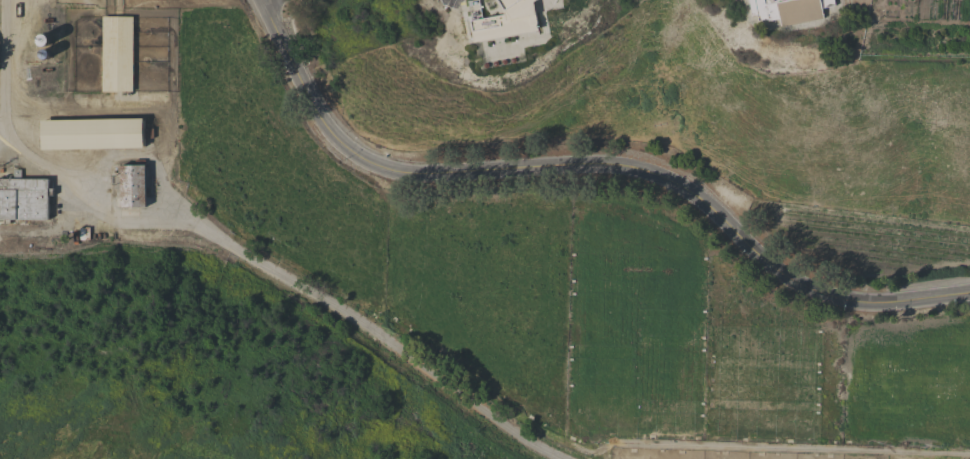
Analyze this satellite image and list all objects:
road: (261, 1)
parking lot: (450, 3)
building: (789, 10)
building: (502, 19)
building: (117, 53)
street lamp: (284, 75)
road: (3, 81)
building: (94, 133)
street lamp: (343, 160)
road: (589, 164)
building: (132, 185)
building: (24, 198)
building: (83, 234)
crop: (867, 240)
road: (229, 245)
street lamp: (741, 254)
street lamp: (956, 305)
street lamp: (845, 311)
street lamp: (897, 312)
road: (658, 445)

